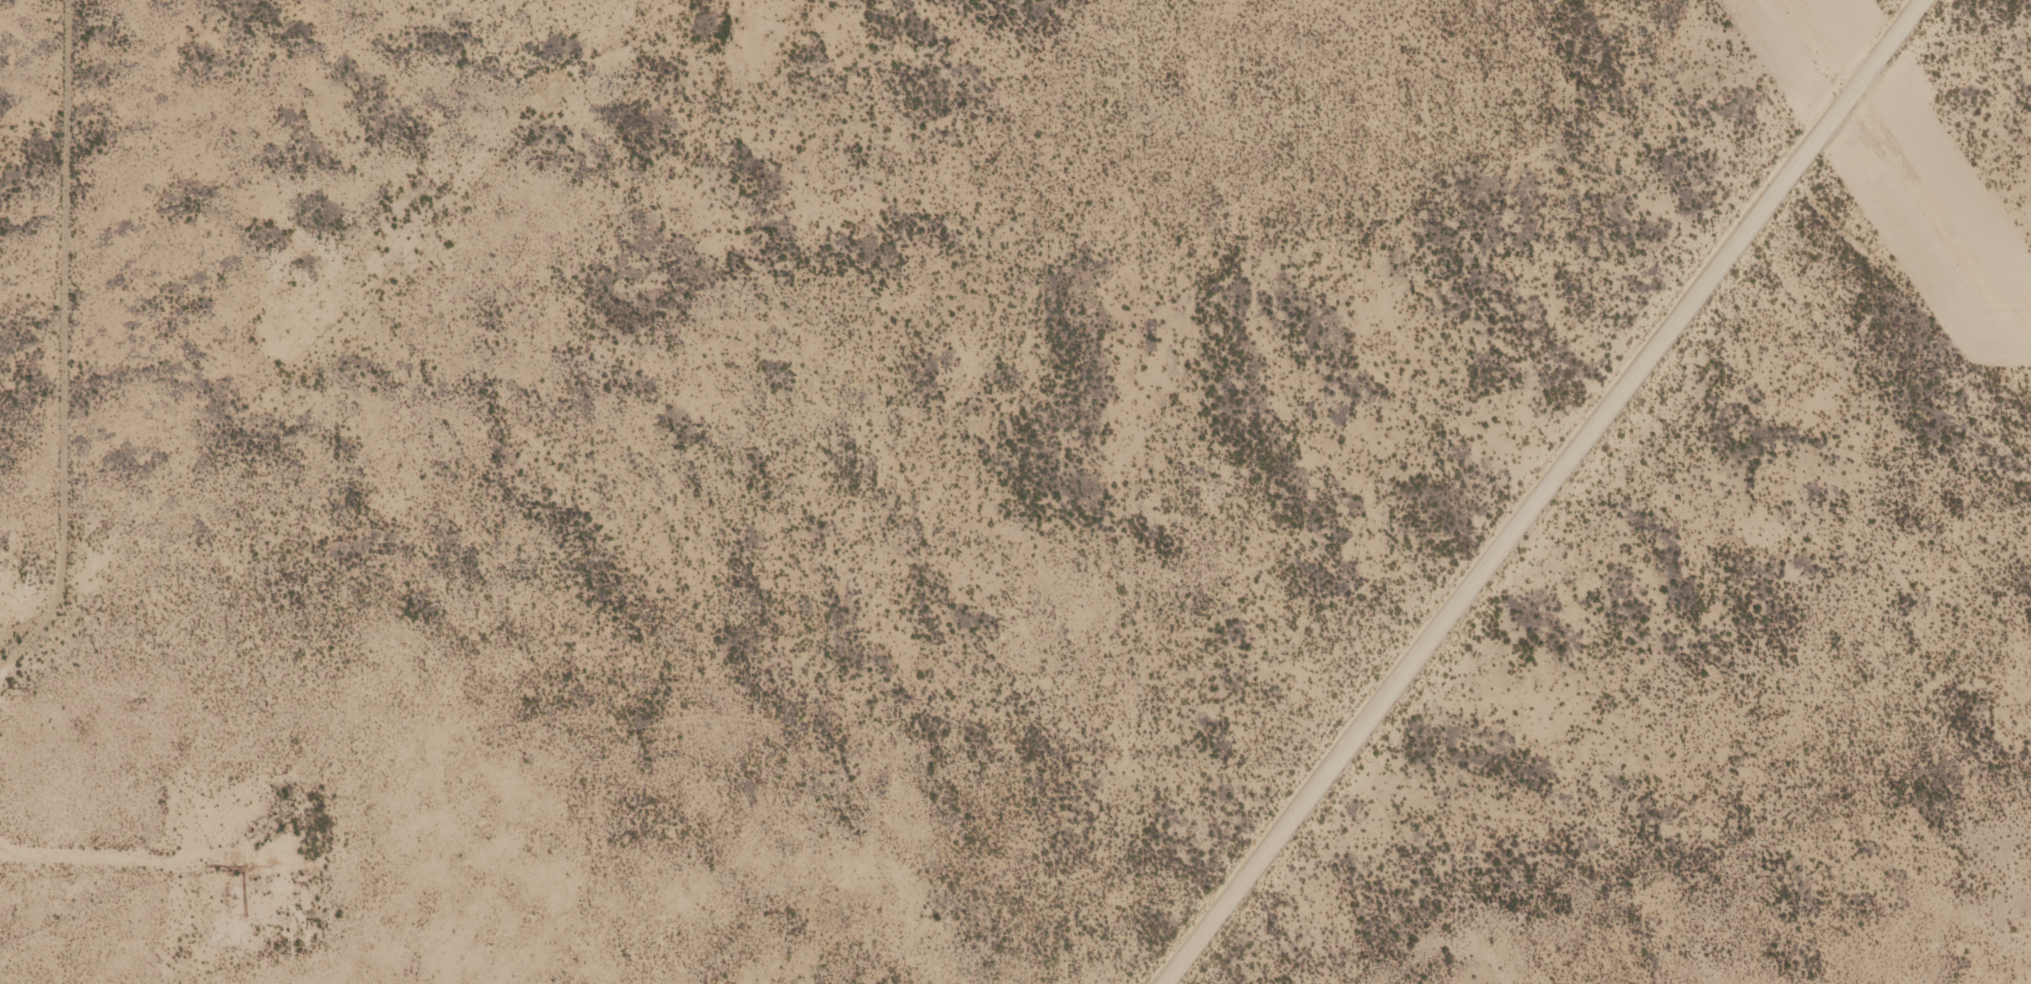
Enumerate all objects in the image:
road: (1829, 102)
road: (66, 249)
road: (1553, 454)
road: (57, 600)
road: (8, 853)
road: (94, 857)

